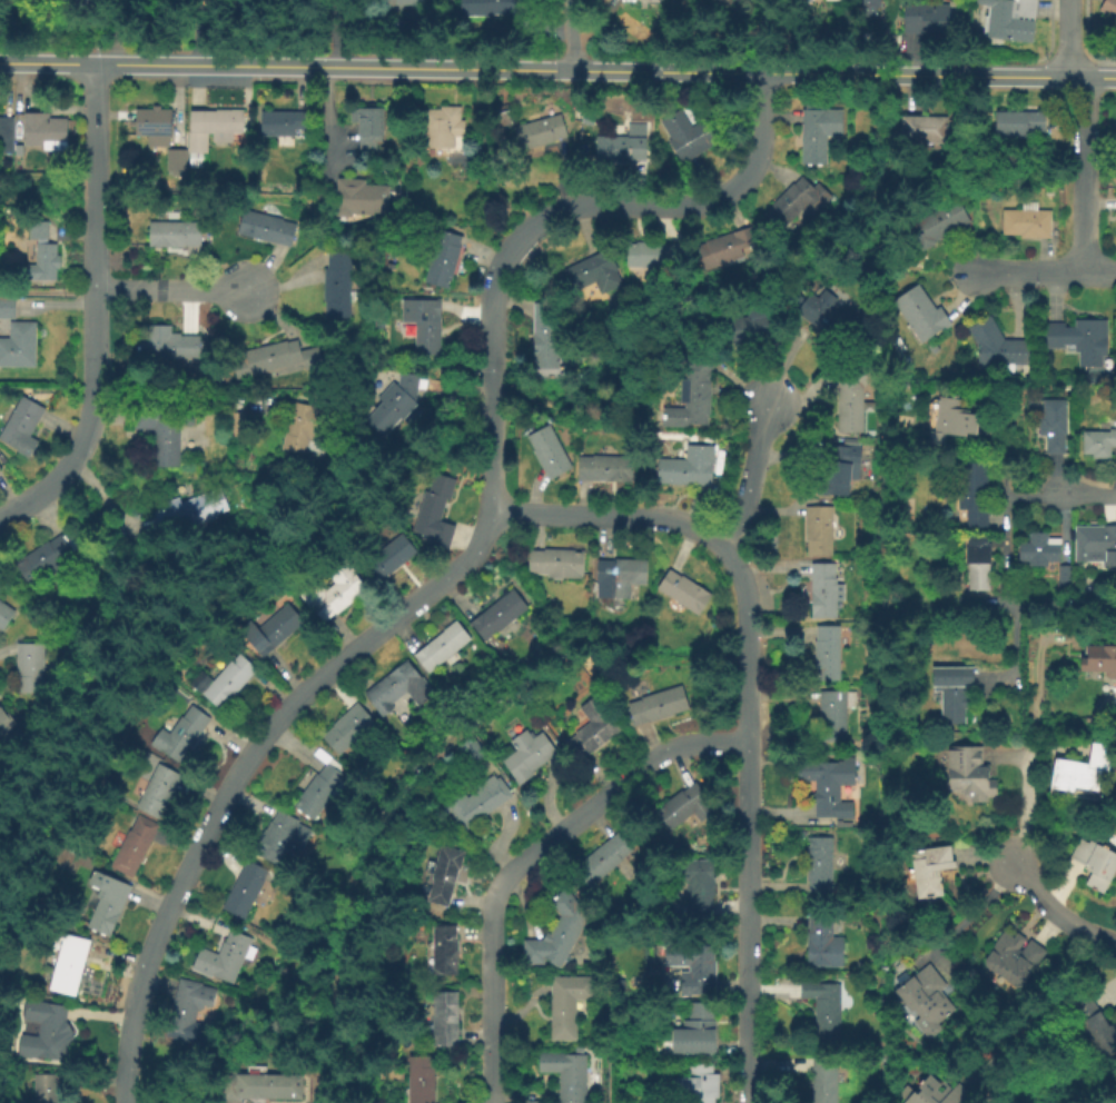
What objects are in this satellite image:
building: (270, 0)
building: (68, 3)
building: (869, 6)
building: (493, 9)
building: (406, 10)
building: (1107, 10)
building: (1009, 18)
building: (928, 19)
road: (198, 29)
road: (111, 31)
road: (328, 32)
road: (570, 34)
road: (1068, 38)
road: (555, 61)
road: (285, 64)
road: (665, 70)
road: (938, 73)
road: (328, 112)
building: (505, 112)
building: (367, 120)
building: (283, 121)
building: (154, 122)
building: (213, 122)
building: (1018, 125)
building: (43, 128)
building: (442, 129)
building: (819, 129)
building: (925, 129)
building: (540, 130)
building: (691, 132)
building: (7, 136)
building: (622, 146)
building: (177, 156)
building: (197, 158)
road: (1084, 172)
road: (47, 179)
building: (1050, 190)
building: (359, 192)
building: (796, 200)
road: (653, 206)
building: (1025, 223)
building: (937, 225)
building: (37, 227)
building: (266, 229)
building: (175, 232)
building: (729, 244)
building: (655, 251)
building: (444, 257)
building: (46, 259)
building: (591, 272)
road: (1045, 272)
building: (338, 284)
road: (48, 289)
road: (171, 290)
building: (7, 306)
road: (96, 312)
building: (831, 315)
building: (919, 315)
building: (425, 320)
building: (748, 324)
building: (546, 334)
building: (1076, 340)
building: (168, 341)
building: (19, 344)
building: (995, 346)
building: (278, 357)
building: (1044, 390)
road: (179, 392)
building: (692, 392)
building: (850, 395)
building: (397, 401)
road: (491, 406)
building: (21, 421)
building: (949, 421)
building: (307, 425)
building: (1051, 425)
building: (166, 429)
building: (1097, 444)
building: (550, 450)
road: (1004, 461)
building: (839, 464)
building: (687, 465)
building: (605, 466)
road: (752, 477)
building: (970, 493)
road: (1087, 493)
building: (433, 503)
building: (197, 507)
road: (609, 517)
building: (819, 529)
building: (1095, 545)
building: (1037, 550)
building: (389, 554)
building: (51, 556)
building: (556, 562)
building: (976, 565)
building: (620, 575)
building: (1061, 576)
road: (1006, 578)
building: (334, 588)
building: (824, 588)
building: (684, 589)
building: (4, 613)
building: (500, 613)
building: (273, 628)
building: (443, 646)
building: (827, 650)
road: (1014, 654)
building: (1098, 662)
building: (29, 666)
building: (229, 679)
building: (398, 686)
building: (950, 693)
building: (659, 703)
building: (834, 713)
building: (9, 726)
building: (348, 726)
building: (593, 726)
building: (179, 733)
road: (1028, 741)
building: (472, 748)
road: (1031, 749)
building: (529, 753)
road: (243, 766)
building: (1079, 772)
building: (967, 775)
building: (830, 784)
building: (323, 786)
building: (158, 788)
road: (613, 792)
building: (476, 799)
building: (685, 805)
road: (748, 821)
building: (282, 835)
building: (135, 844)
building: (603, 857)
road: (986, 861)
building: (820, 863)
building: (1094, 864)
building: (928, 872)
building: (445, 874)
building: (245, 887)
building: (699, 888)
building: (108, 901)
road: (1056, 914)
road: (969, 916)
building: (556, 931)
building: (823, 941)
building: (445, 948)
building: (230, 955)
building: (1014, 957)
building: (68, 960)
building: (693, 965)
road: (493, 994)
building: (924, 1001)
building: (567, 1002)
road: (1037, 1008)
building: (188, 1010)
building: (829, 1012)
building: (444, 1015)
building: (45, 1027)
building: (1095, 1027)
building: (695, 1031)
building: (566, 1072)
building: (419, 1077)
building: (822, 1079)
building: (699, 1082)
building: (269, 1085)
building: (48, 1086)
building: (928, 1094)

